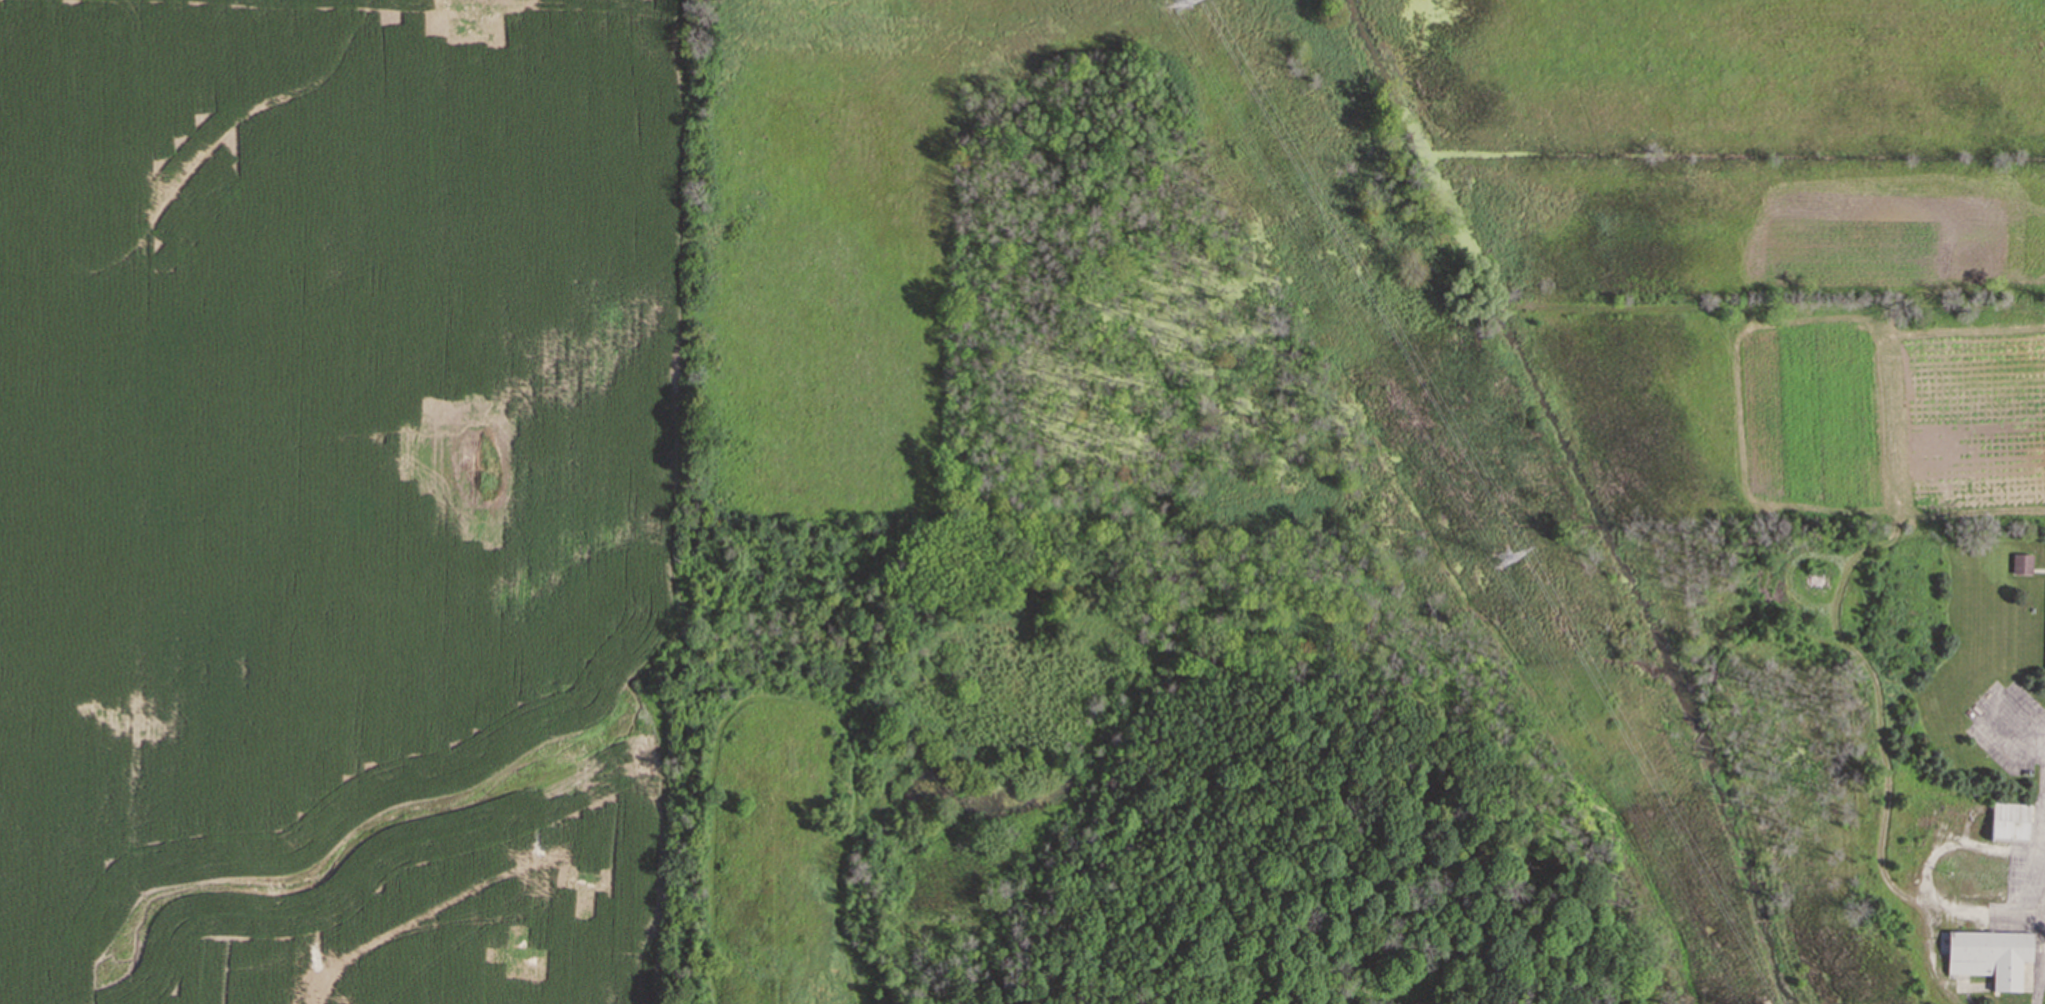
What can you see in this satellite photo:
crop: (337, 497)
power tower: (1504, 556)
building: (2020, 563)
road: (2043, 810)
building: (1988, 955)

